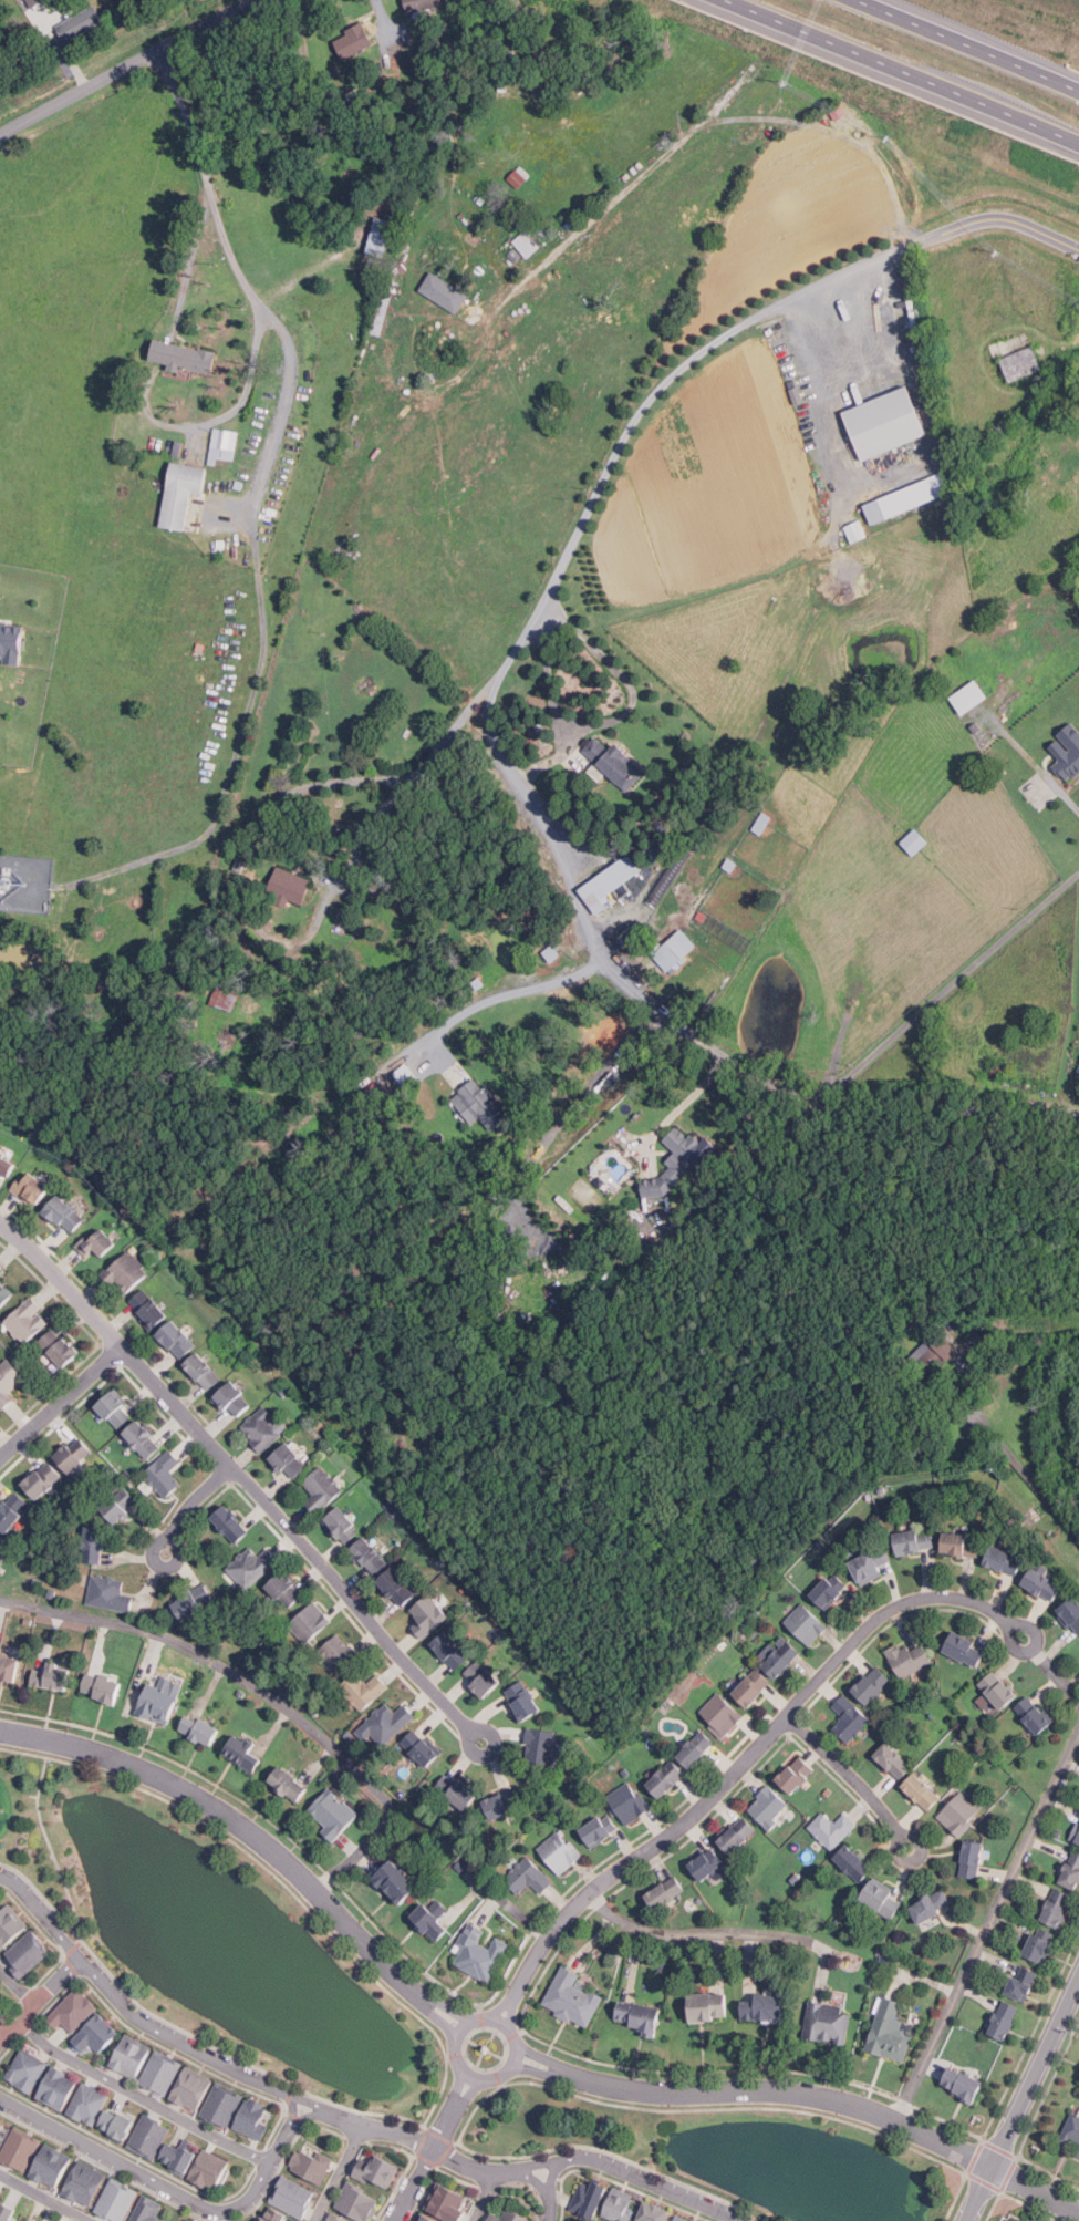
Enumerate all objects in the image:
building: (33, 1)
building: (22, 2)
building: (421, 3)
building: (80, 22)
building: (354, 39)
road: (967, 47)
building: (508, 58)
road: (121, 64)
road: (905, 71)
building: (354, 93)
road: (707, 116)
building: (519, 176)
building: (372, 236)
building: (382, 236)
building: (527, 242)
building: (404, 244)
building: (515, 255)
building: (376, 266)
road: (249, 287)
building: (446, 291)
building: (383, 312)
road: (1064, 341)
building: (185, 355)
road: (860, 355)
building: (1024, 362)
building: (948, 417)
building: (886, 423)
building: (224, 444)
building: (178, 447)
road: (896, 472)
building: (240, 484)
building: (184, 492)
building: (910, 497)
building: (857, 530)
road: (542, 606)
building: (11, 642)
building: (972, 695)
building: (977, 727)
road: (489, 731)
building: (1068, 751)
building: (614, 763)
road: (1042, 772)
road: (406, 781)
building: (764, 823)
building: (915, 841)
building: (240, 864)
building: (732, 864)
building: (611, 882)
building: (291, 886)
building: (703, 916)
building: (675, 950)
building: (553, 953)
building: (479, 982)
road: (508, 990)
building: (227, 996)
building: (1078, 1068)
building: (999, 1070)
building: (408, 1075)
road: (684, 1102)
building: (481, 1104)
building: (684, 1161)
building: (6, 1163)
building: (31, 1187)
building: (65, 1215)
building: (621, 1239)
building: (96, 1242)
building: (1, 1270)
building: (126, 1272)
building: (4, 1295)
building: (151, 1309)
building: (27, 1319)
building: (177, 1337)
building: (60, 1345)
building: (933, 1353)
building: (203, 1370)
building: (8, 1383)
building: (891, 1388)
building: (231, 1397)
road: (60, 1401)
building: (115, 1407)
building: (263, 1427)
building: (144, 1438)
building: (74, 1454)
building: (290, 1460)
building: (164, 1473)
road: (241, 1478)
building: (43, 1479)
building: (321, 1488)
building: (120, 1504)
road: (191, 1507)
building: (12, 1510)
building: (230, 1522)
building: (343, 1525)
building: (914, 1540)
building: (962, 1543)
building: (94, 1545)
building: (2, 1554)
building: (370, 1554)
building: (1005, 1559)
building: (870, 1564)
building: (251, 1566)
building: (1042, 1583)
building: (397, 1585)
building: (286, 1589)
building: (828, 1590)
building: (108, 1593)
building: (191, 1601)
building: (1071, 1613)
building: (428, 1615)
building: (310, 1622)
building: (807, 1623)
building: (962, 1645)
building: (450, 1650)
building: (338, 1654)
building: (781, 1657)
building: (909, 1659)
building: (9, 1666)
road: (1050, 1666)
building: (53, 1676)
building: (481, 1678)
building: (873, 1685)
building: (102, 1686)
building: (753, 1687)
building: (364, 1690)
building: (999, 1690)
road: (267, 1694)
building: (159, 1700)
building: (522, 1702)
building: (722, 1714)
building: (1035, 1714)
building: (850, 1718)
building: (386, 1722)
building: (200, 1729)
building: (540, 1745)
building: (422, 1747)
building: (696, 1748)
road: (755, 1750)
building: (243, 1752)
building: (894, 1759)
building: (797, 1774)
road: (851, 1776)
building: (667, 1778)
building: (289, 1783)
building: (457, 1790)
building: (922, 1790)
building: (627, 1801)
building: (504, 1802)
building: (769, 1806)
building: (333, 1812)
building: (961, 1812)
road: (231, 1818)
building: (831, 1828)
building: (598, 1830)
building: (738, 1833)
building: (1078, 1840)
building: (559, 1851)
building: (973, 1858)
building: (854, 1862)
building: (707, 1863)
building: (1071, 1870)
building: (528, 1876)
building: (397, 1881)
building: (666, 1892)
building: (882, 1898)
building: (930, 1905)
building: (1058, 1907)
building: (432, 1918)
building: (10, 1924)
road: (987, 1926)
road: (702, 1933)
building: (1039, 1945)
building: (1029, 1948)
building: (28, 1952)
building: (479, 1953)
building: (1023, 1982)
road: (18, 1986)
building: (572, 1997)
road: (41, 2001)
road: (444, 2004)
road: (505, 2005)
building: (709, 2006)
building: (764, 2007)
road: (511, 2008)
building: (72, 2010)
road: (433, 2013)
building: (639, 2016)
road: (141, 2019)
building: (1005, 2019)
building: (828, 2022)
road: (2, 2031)
building: (891, 2031)
building: (96, 2034)
building: (131, 2056)
road: (547, 2060)
building: (28, 2069)
building: (162, 2073)
road: (542, 2074)
road: (468, 2075)
building: (1077, 2077)
building: (963, 2084)
building: (58, 2088)
building: (193, 2088)
road: (458, 2088)
road: (468, 2093)
road: (143, 2097)
road: (839, 2103)
road: (1020, 2103)
building: (89, 2104)
building: (222, 2105)
road: (307, 2118)
building: (252, 2119)
building: (1, 2124)
building: (116, 2124)
building: (1072, 2134)
building: (149, 2136)
building: (1, 2141)
road: (432, 2147)
building: (20, 2148)
building: (178, 2157)
building: (311, 2163)
road: (427, 2165)
building: (52, 2166)
building: (210, 2170)
building: (377, 2171)
road: (338, 2174)
road: (642, 2179)
building: (84, 2183)
road: (174, 2191)
road: (548, 2196)
building: (293, 2197)
road: (486, 2197)
road: (42, 2198)
building: (589, 2198)
building: (116, 2200)
building: (452, 2201)
building: (357, 2202)
building: (619, 2205)
building: (147, 2210)
building: (8, 2211)
building: (654, 2212)
building: (274, 2215)
building: (508, 2217)
building: (335, 2218)
building: (419, 2218)
building: (430, 2218)
building: (684, 2218)
building: (179, 2219)
building: (185, 2219)
building: (676, 2219)

